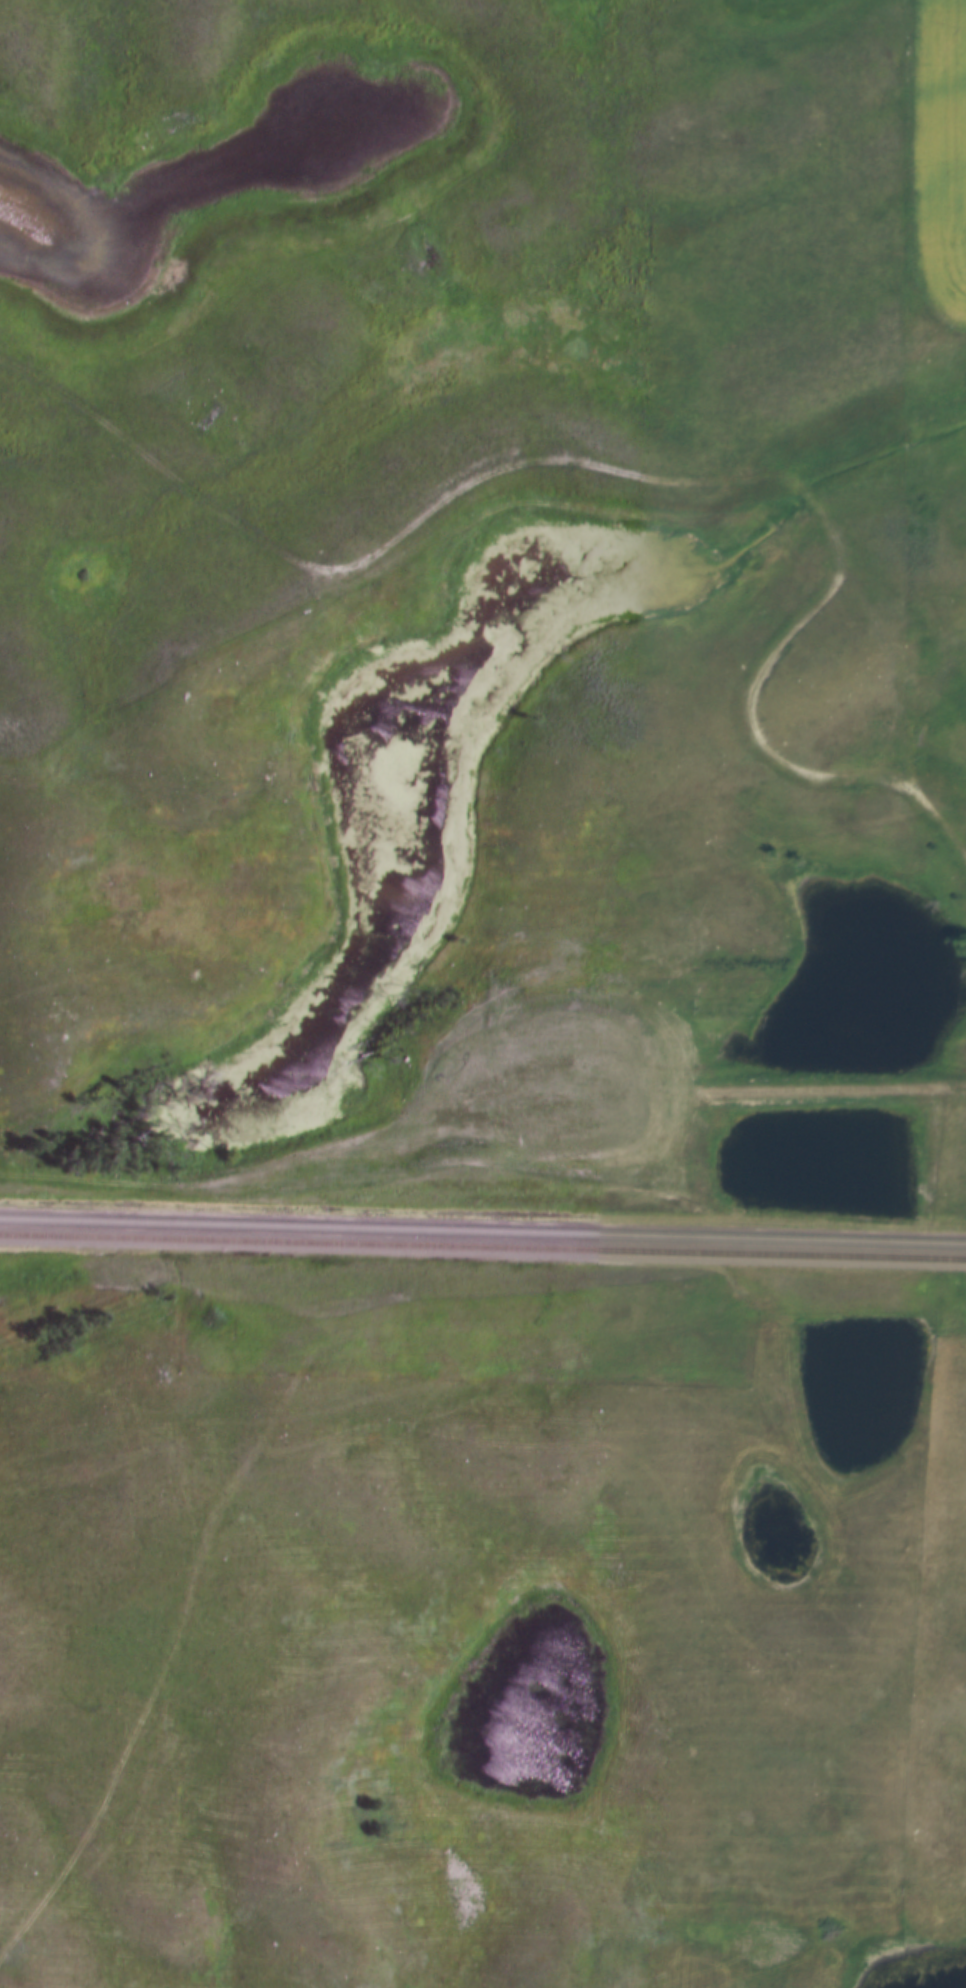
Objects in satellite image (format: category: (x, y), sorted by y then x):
railway: (482, 1226)
railway: (482, 1248)

